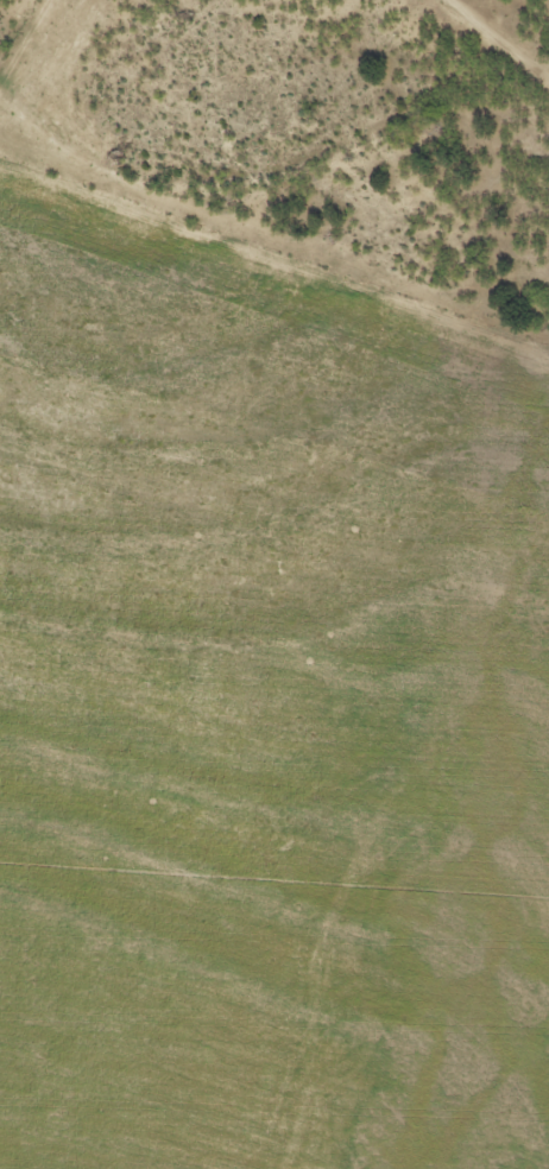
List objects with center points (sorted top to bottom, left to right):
road: (510, 29)

